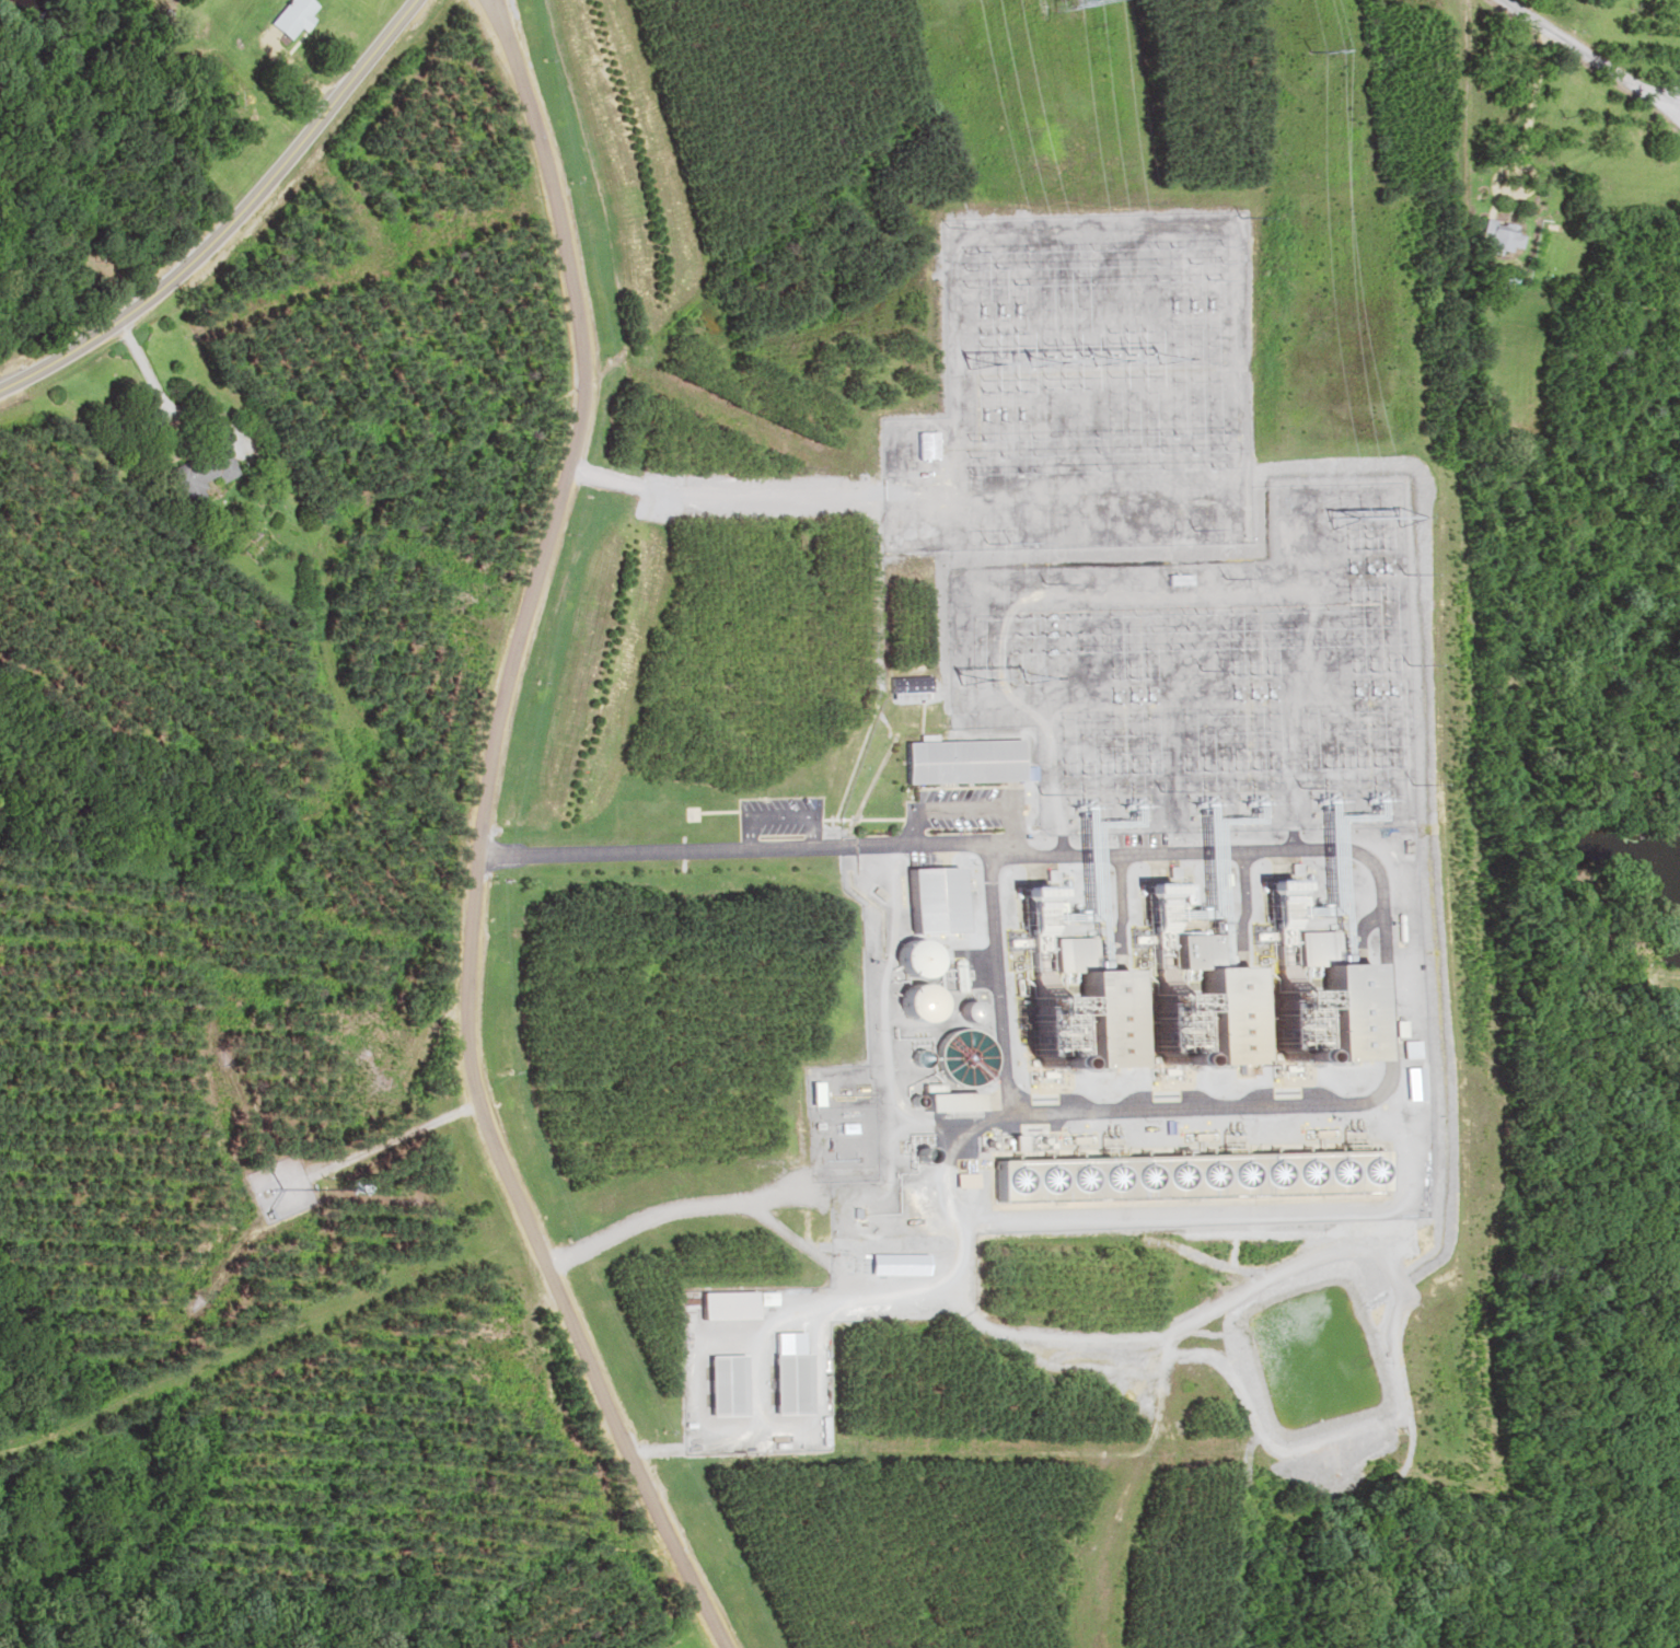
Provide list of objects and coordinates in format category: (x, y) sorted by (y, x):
power tower: (1033, 7)
building: (292, 16)
power tower: (1283, 49)
road: (1581, 54)
road: (227, 218)
building: (1499, 237)
building: (1502, 281)
power substation: (1079, 388)
building: (925, 445)
building: (270, 460)
building: (201, 472)
power substation: (1207, 674)
building: (911, 683)
building: (964, 761)
parking lot: (964, 811)
road: (965, 811)
road: (780, 816)
parking lot: (779, 819)
road: (475, 840)
road: (664, 850)
building: (939, 897)
road: (1115, 897)
road: (1239, 897)
road: (1360, 921)
power plant: (1108, 924)
building: (915, 955)
building: (918, 1001)
building: (1351, 1008)
building: (970, 1010)
building: (1231, 1012)
building: (1105, 1014)
road: (1386, 1033)
building: (1406, 1047)
chimney: (1278, 1060)
chimney: (1160, 1063)
chimney: (1039, 1064)
building: (955, 1070)
building: (948, 1100)
building: (1186, 1173)
road: (702, 1204)
road: (778, 1232)
road: (896, 1288)
building: (725, 1303)
building: (788, 1382)
building: (725, 1384)

